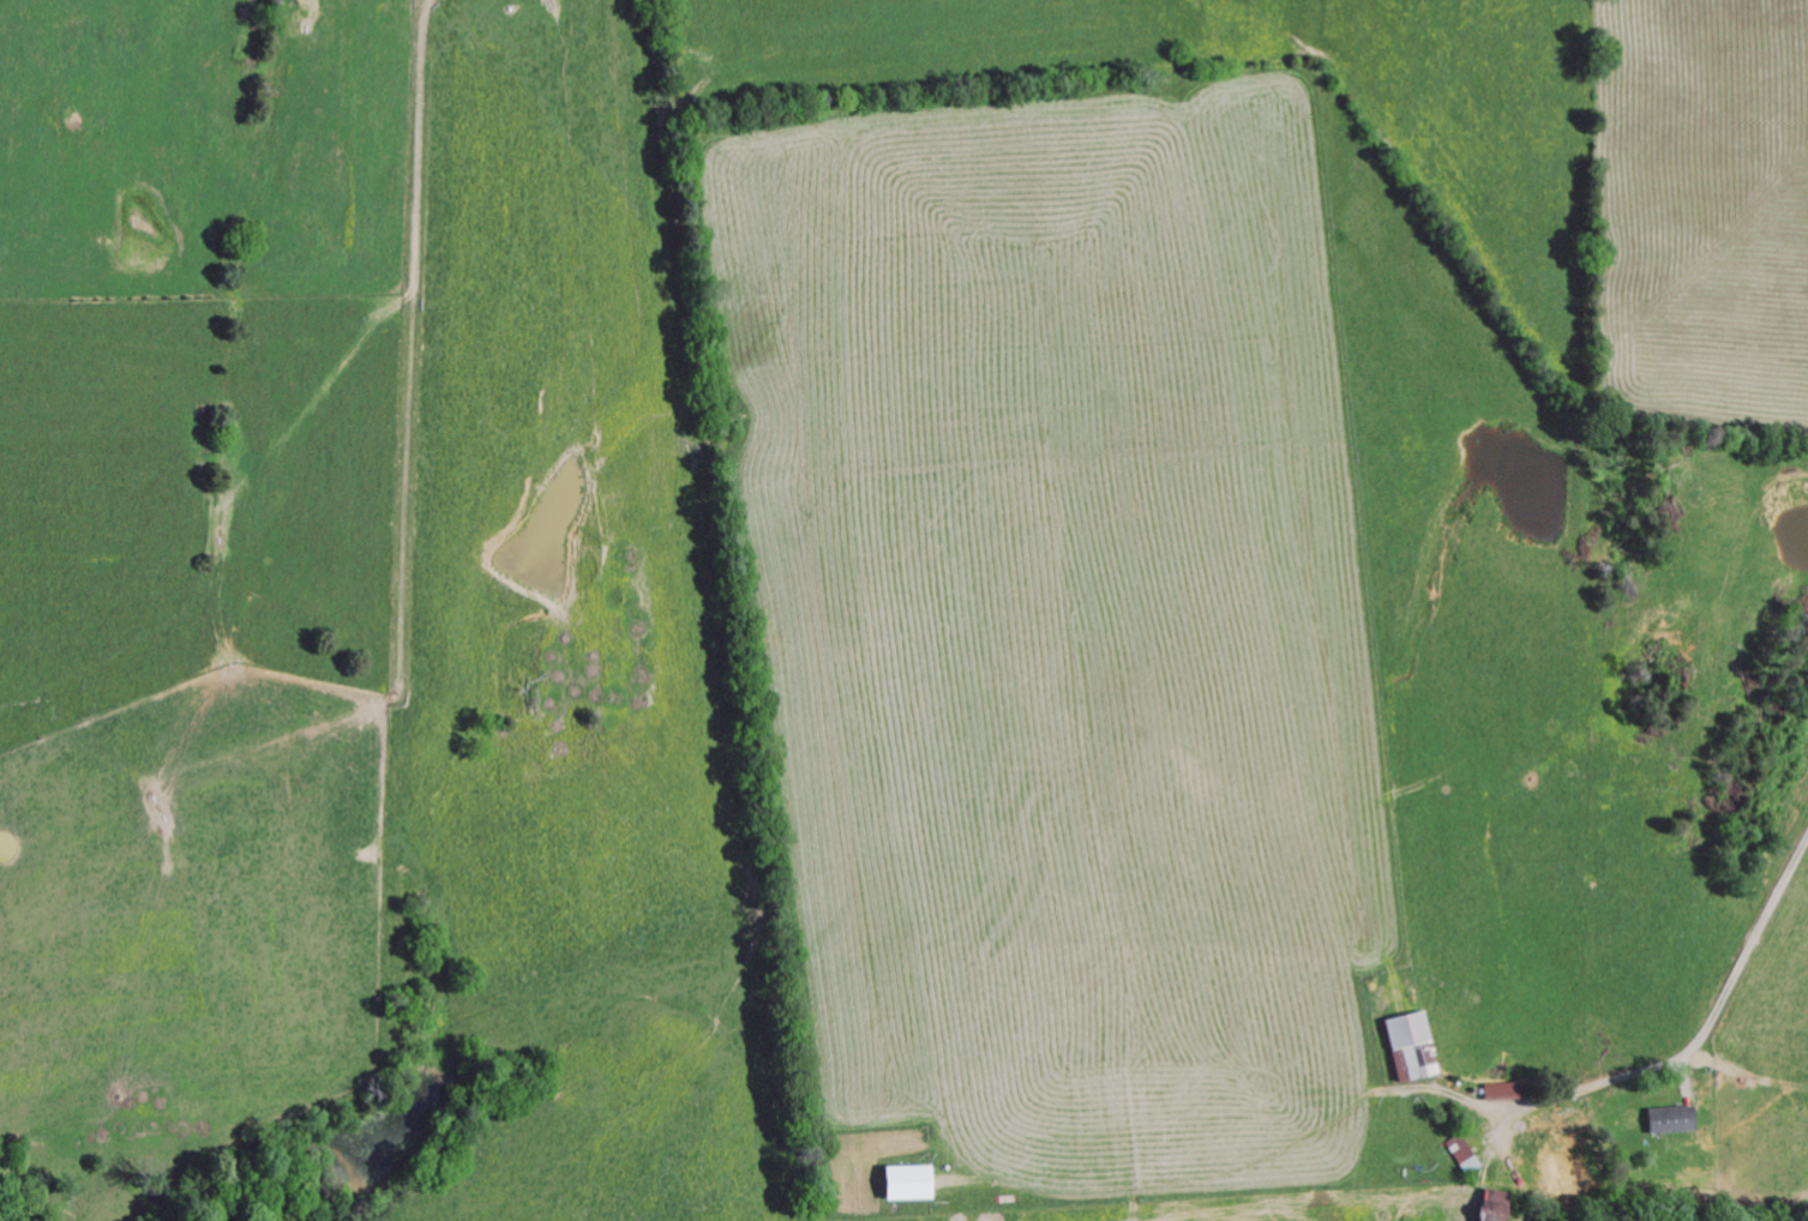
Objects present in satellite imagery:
building: (1402, 1051)
building: (1494, 1095)
road: (1459, 1102)
building: (1660, 1123)
building: (896, 1186)
building: (1485, 1207)

